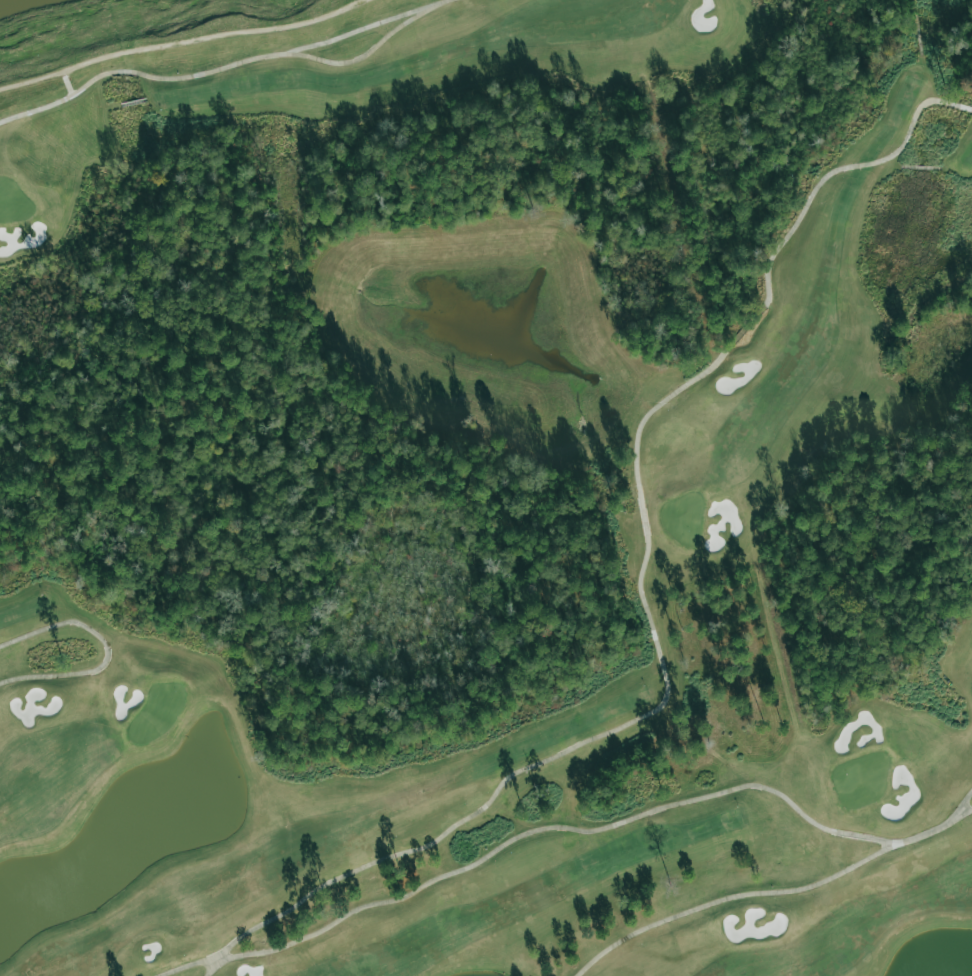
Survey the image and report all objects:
river: (25, 5)
park: (486, 488)
park: (491, 495)
road: (639, 585)
road: (971, 808)
road: (559, 833)
road: (772, 893)

